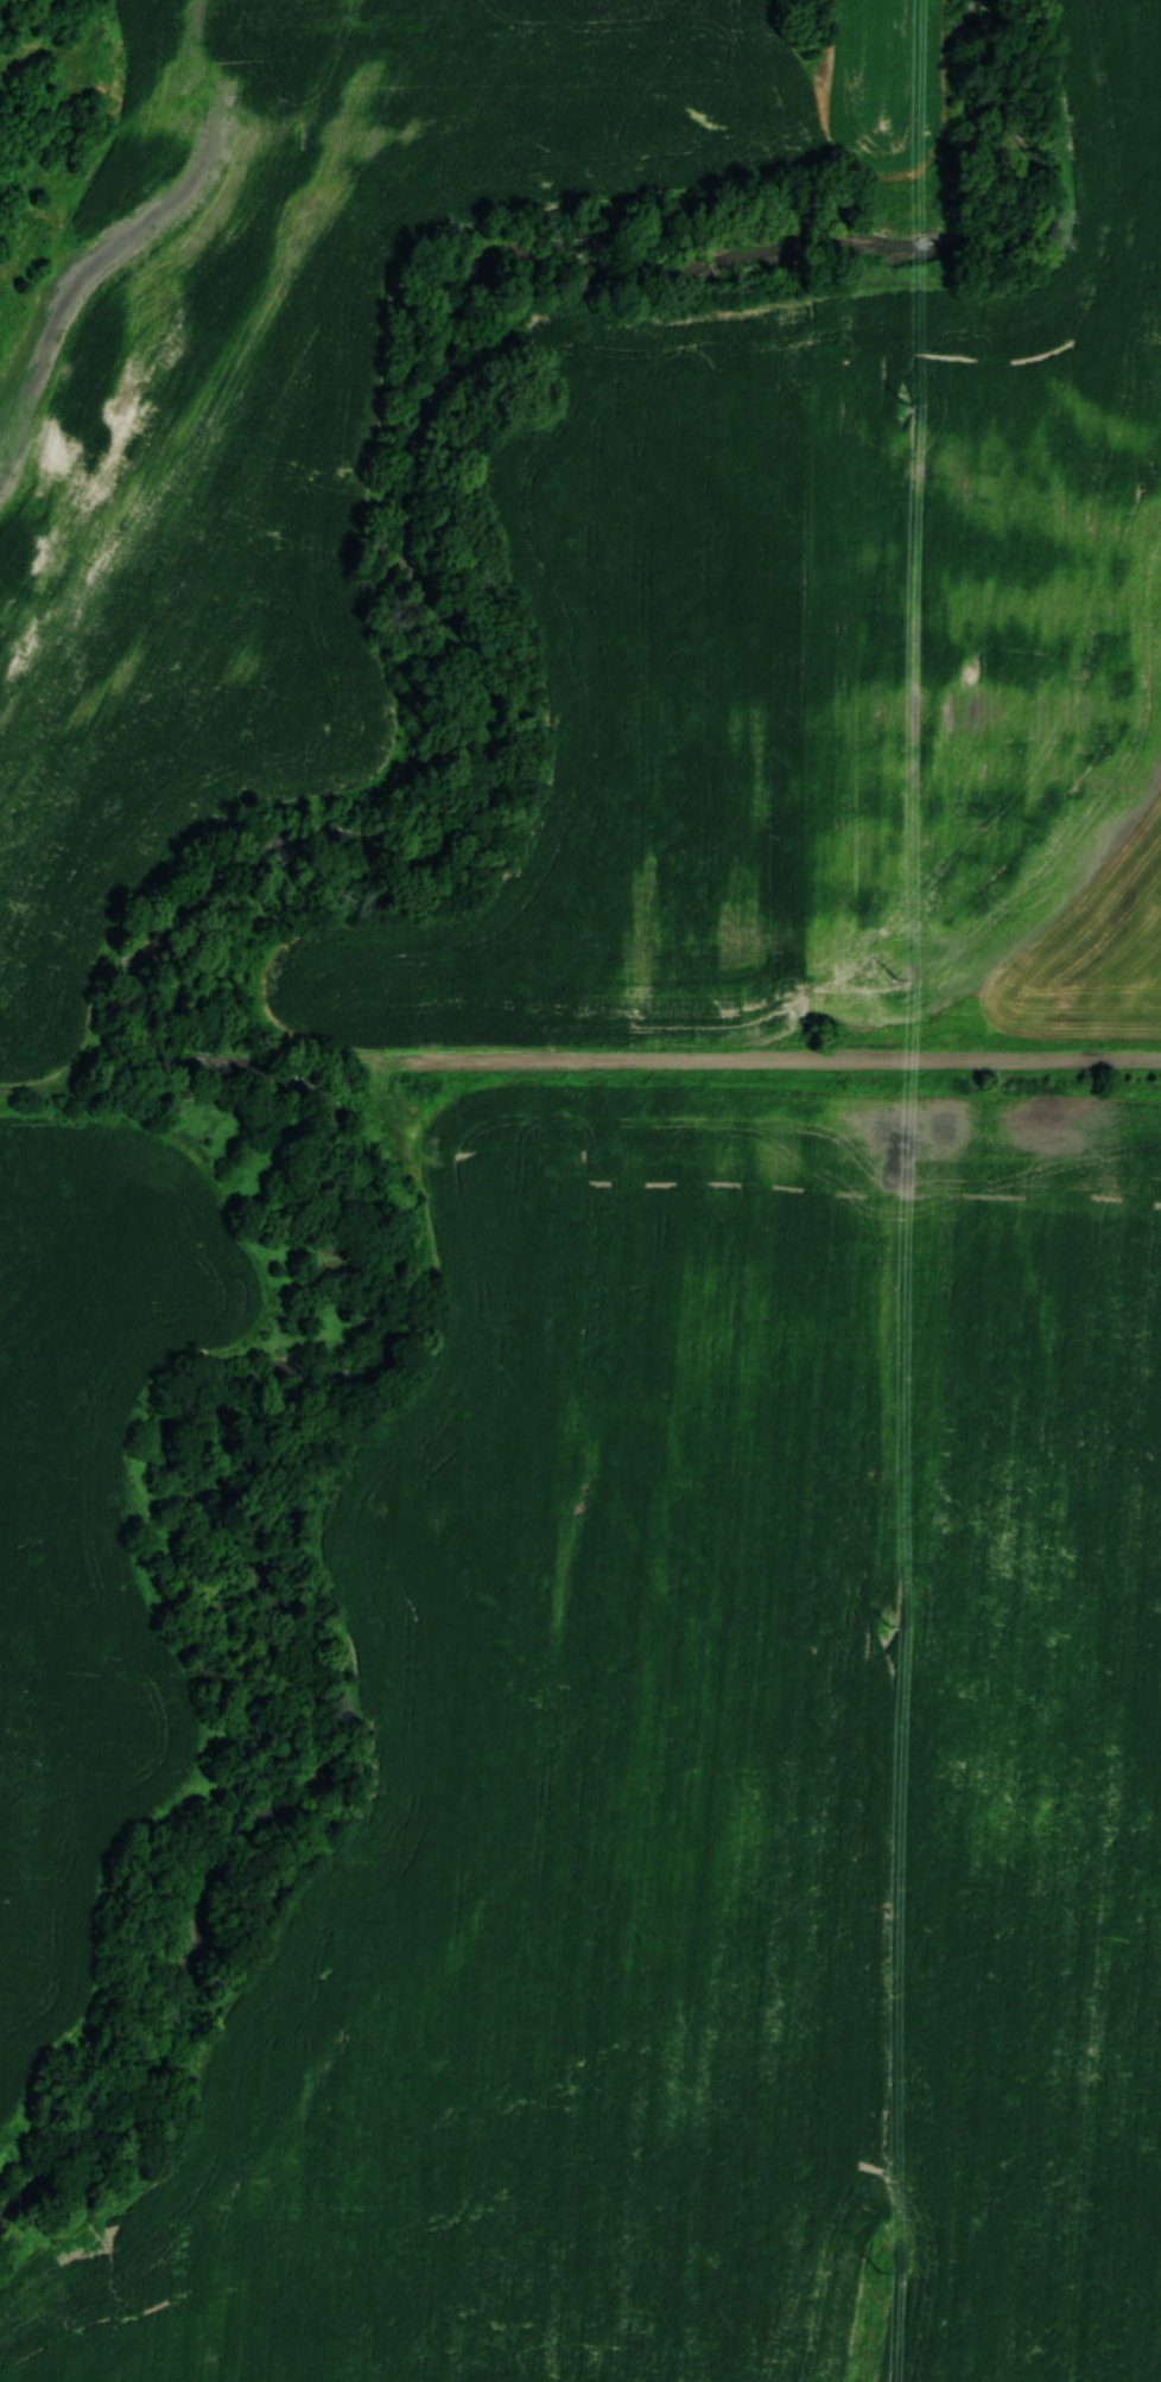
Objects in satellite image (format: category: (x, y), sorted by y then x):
power tower: (903, 350)
river: (156, 959)
power tower: (896, 974)
road: (768, 1061)
power tower: (888, 1628)
power tower: (880, 2274)

